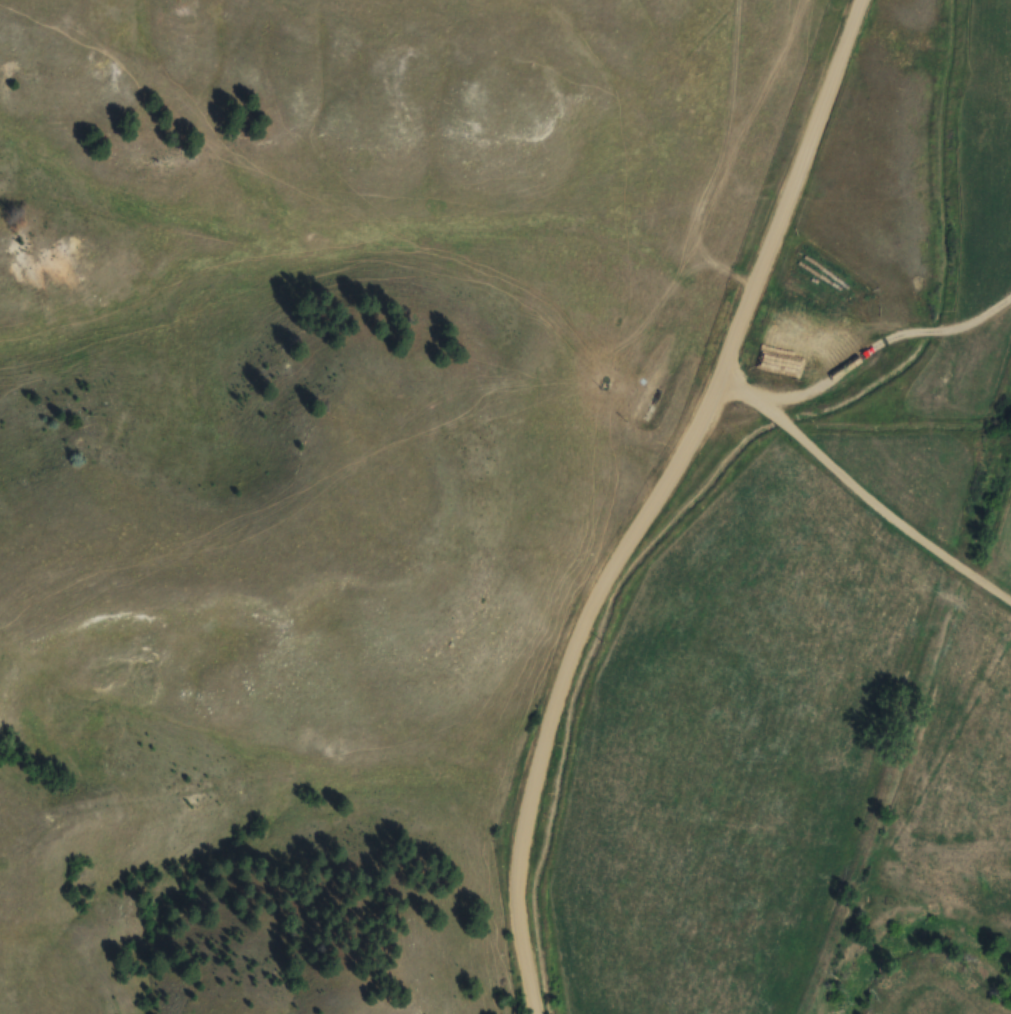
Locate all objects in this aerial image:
road: (653, 501)

